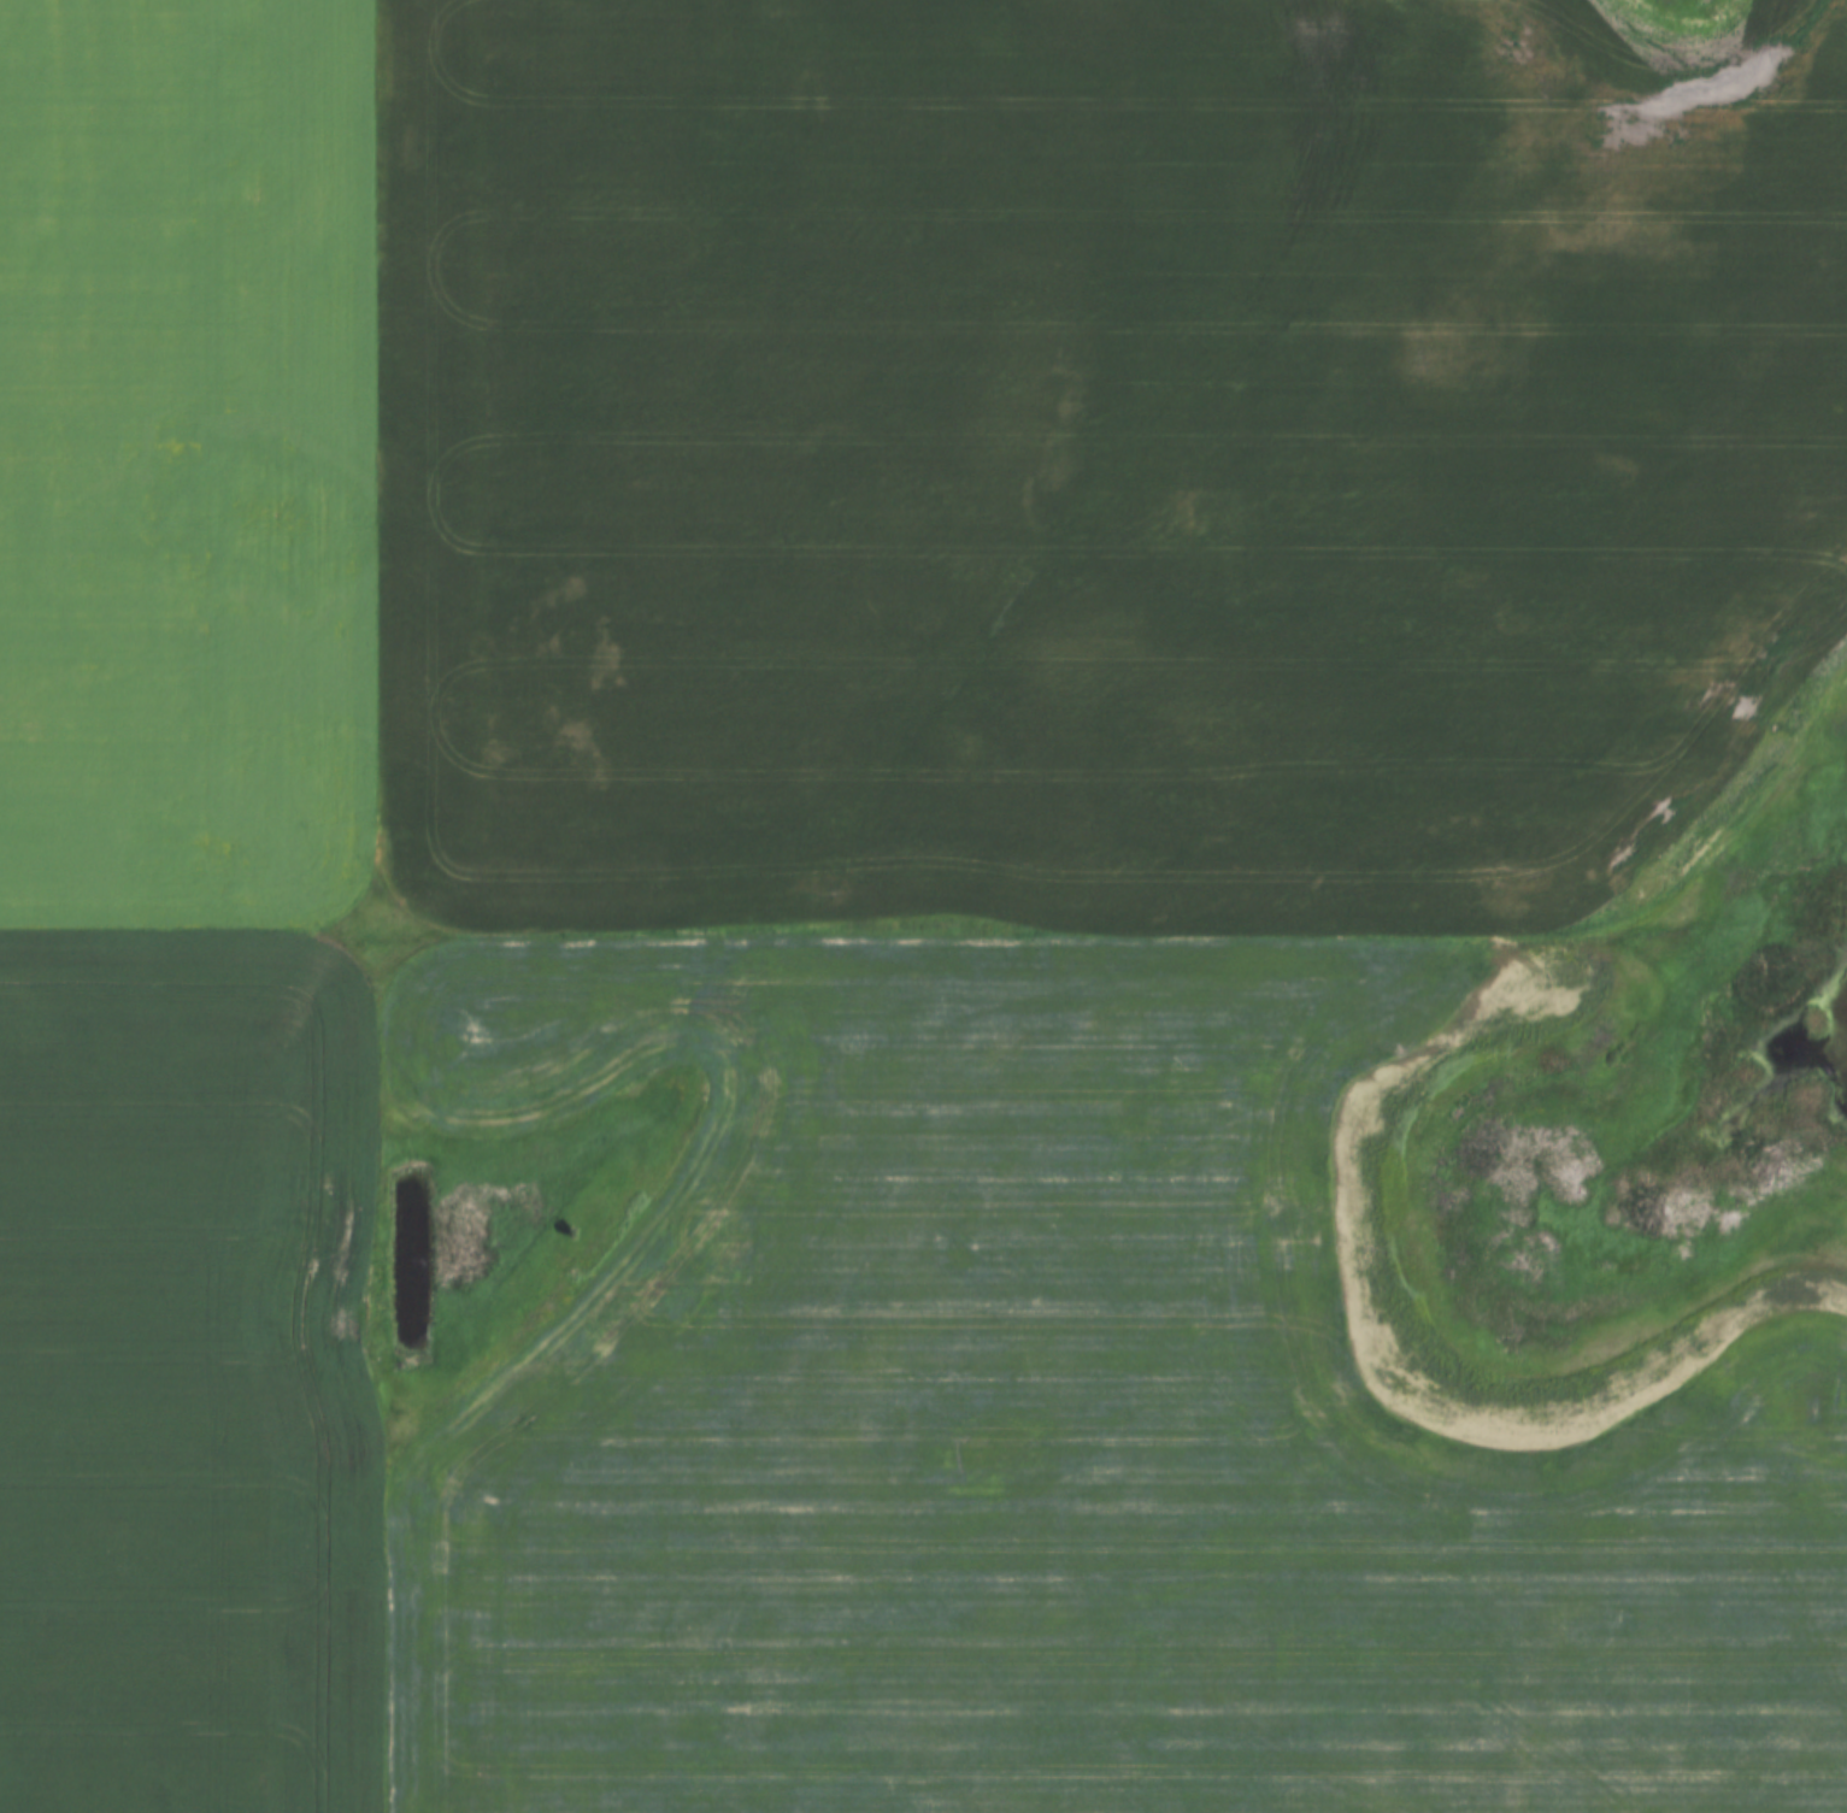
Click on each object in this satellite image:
road: (333, 925)

